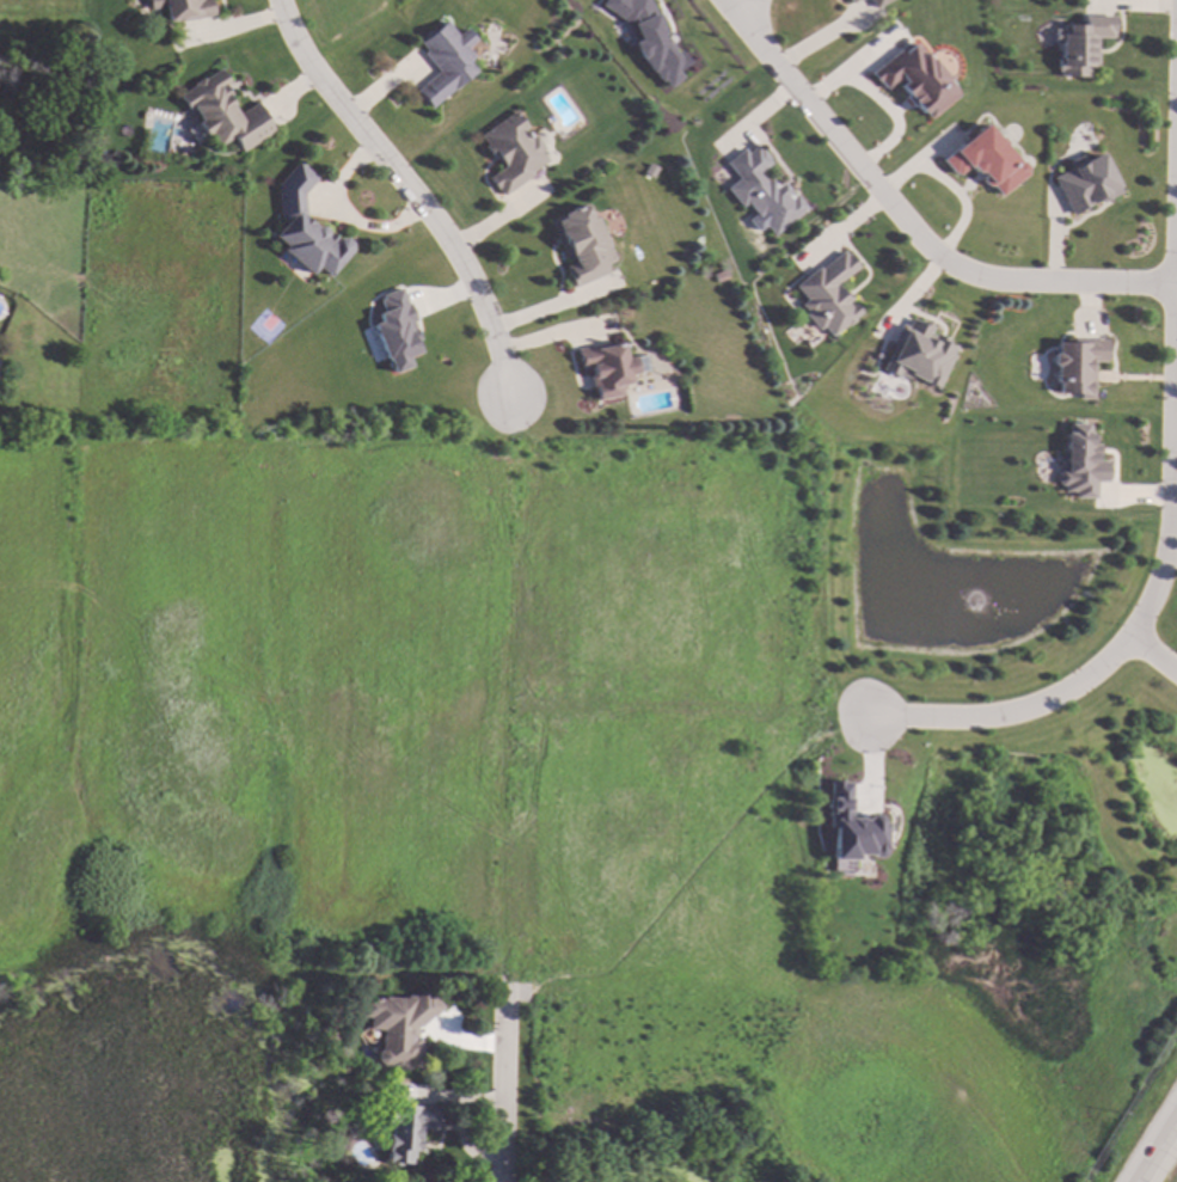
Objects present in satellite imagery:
building: (846, 0)
building: (851, 1)
building: (876, 2)
building: (180, 8)
building: (646, 37)
building: (1080, 42)
building: (445, 60)
building: (915, 80)
building: (222, 112)
building: (55, 121)
building: (510, 151)
building: (986, 159)
building: (651, 182)
building: (1084, 182)
building: (761, 189)
building: (305, 225)
road: (907, 227)
building: (581, 244)
building: (718, 275)
building: (827, 294)
road: (553, 305)
building: (394, 331)
building: (914, 354)
building: (1075, 365)
building: (605, 368)
road: (519, 441)
building: (1077, 464)
road: (1170, 558)
fountain: (974, 604)
road: (1152, 655)
road: (868, 716)
building: (848, 828)
building: (397, 1024)
road: (509, 1067)
crop: (969, 1079)
building: (405, 1128)
road: (1151, 1141)

